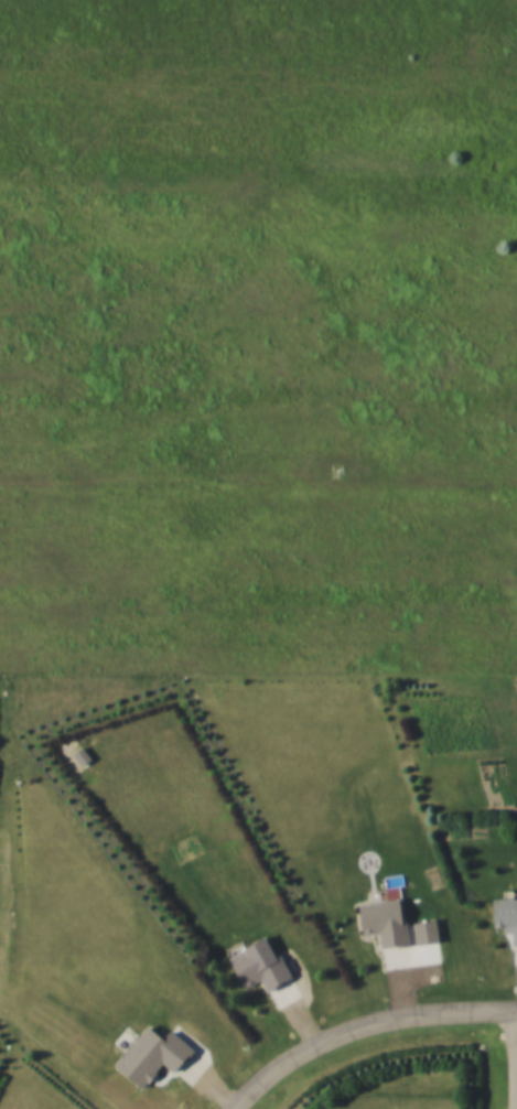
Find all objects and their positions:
building: (504, 916)
building: (381, 920)
building: (256, 963)
road: (366, 1031)
building: (149, 1054)

